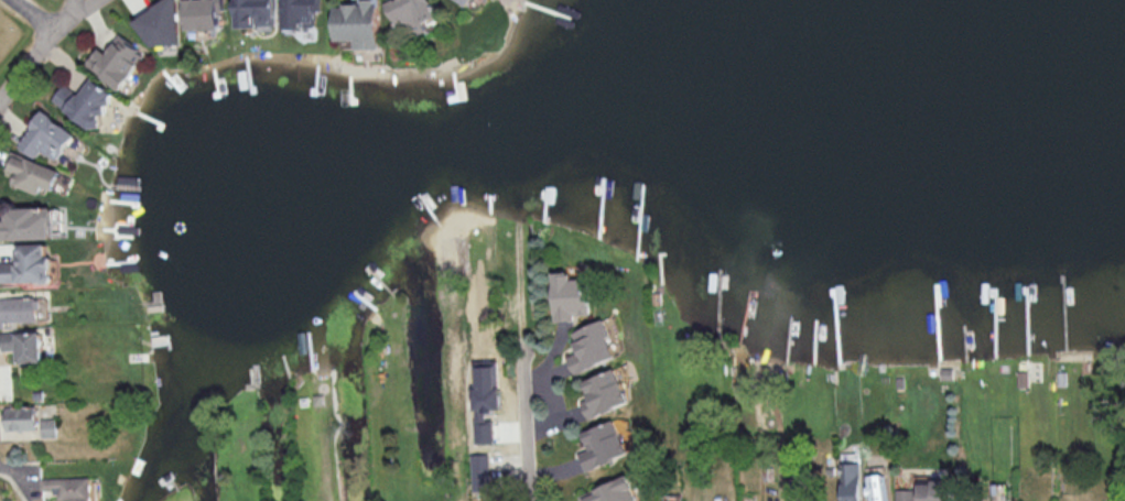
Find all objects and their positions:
building: (468, 1)
building: (257, 12)
building: (203, 13)
building: (300, 13)
building: (412, 13)
road: (34, 18)
road: (78, 19)
building: (359, 23)
building: (162, 24)
road: (34, 61)
building: (118, 61)
building: (86, 101)
building: (47, 137)
building: (33, 173)
river: (355, 174)
building: (25, 222)
building: (29, 265)
building: (570, 296)
building: (18, 309)
building: (24, 345)
building: (591, 347)
building: (604, 393)
building: (486, 400)
road: (524, 409)
building: (23, 417)
building: (50, 426)
building: (603, 444)
building: (479, 472)
building: (852, 481)
building: (877, 487)
building: (69, 488)
building: (612, 491)
building: (926, 491)

